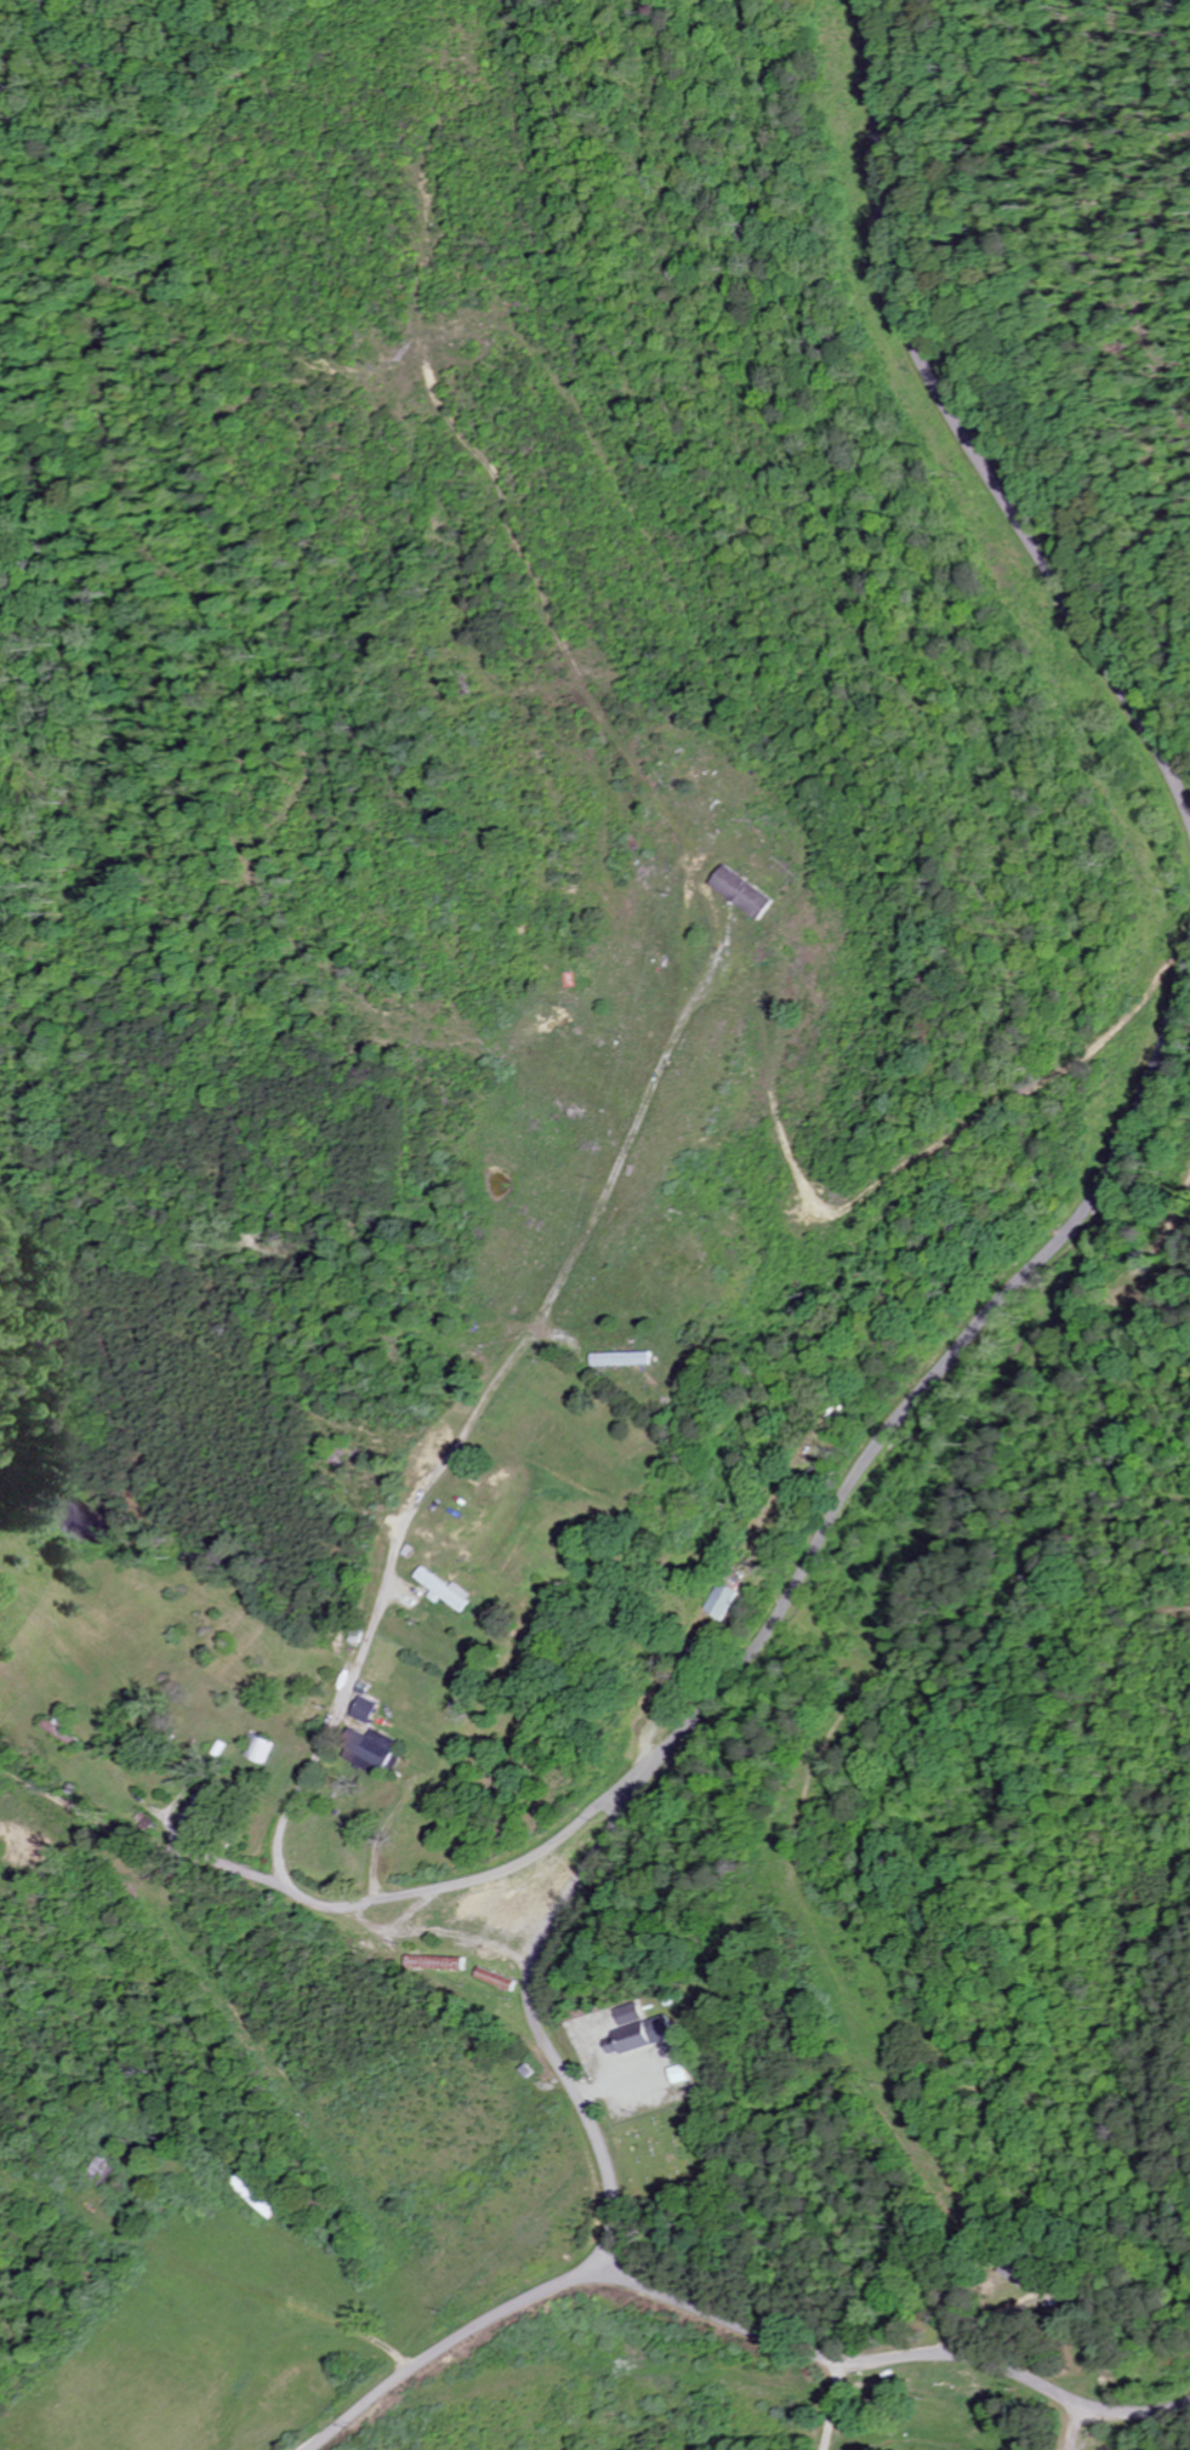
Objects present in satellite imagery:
road: (960, 433)
building: (740, 893)
road: (476, 1407)
building: (443, 1591)
building: (723, 1603)
building: (363, 1711)
road: (679, 1731)
building: (366, 1750)
road: (514, 1865)
road: (353, 1913)
building: (630, 2016)
building: (637, 2039)
road: (608, 2086)
road: (890, 2360)
road: (832, 2408)
road: (1070, 2426)
road: (1103, 2433)

